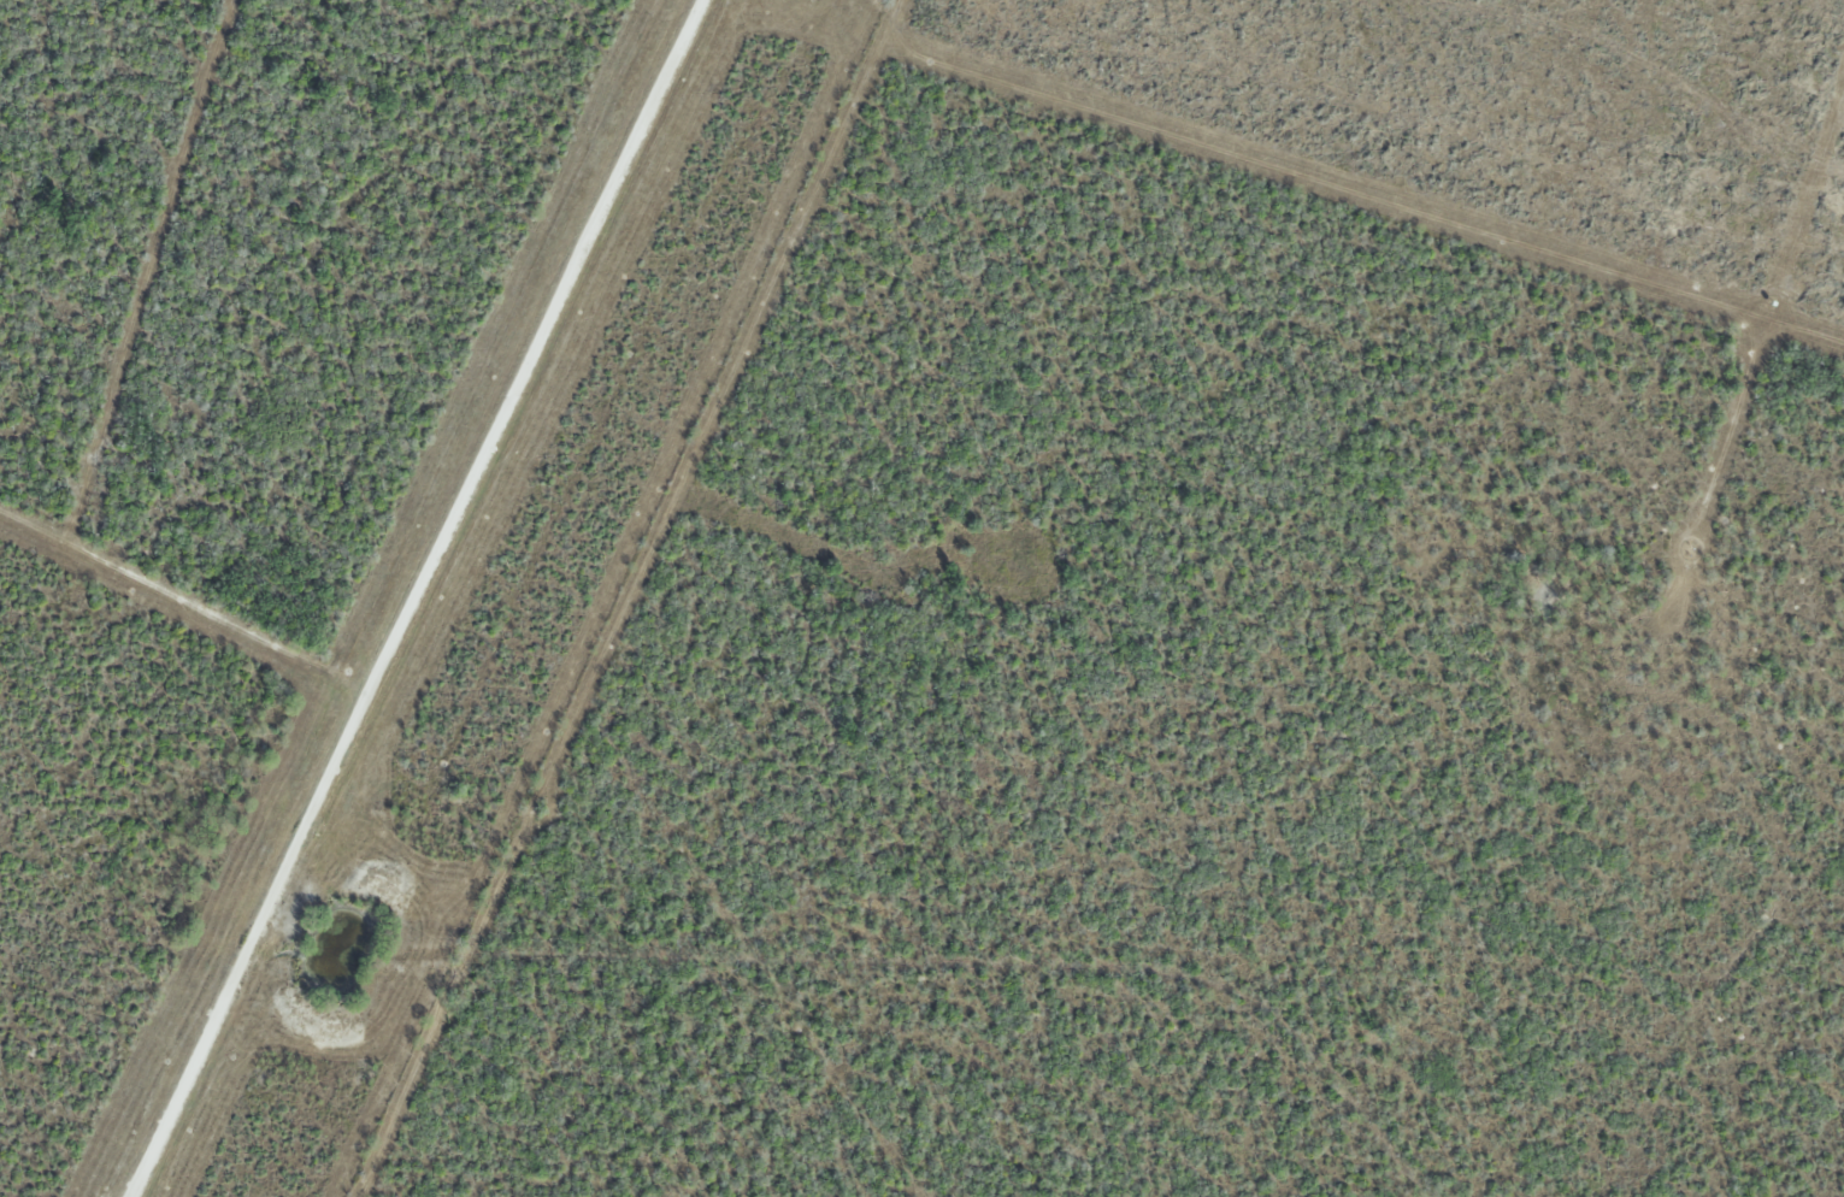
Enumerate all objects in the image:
road: (424, 598)

